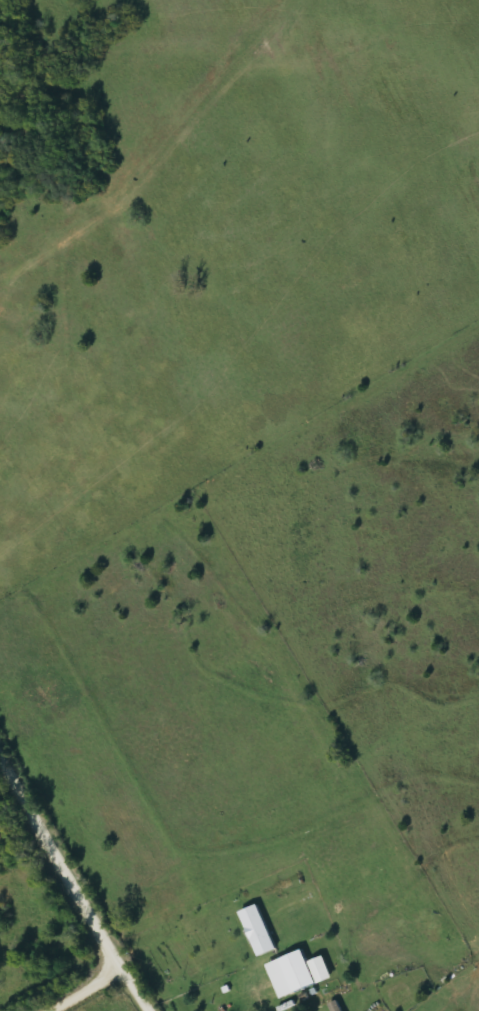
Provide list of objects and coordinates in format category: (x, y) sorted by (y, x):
road: (59, 864)
building: (258, 930)
building: (298, 973)
road: (131, 990)
road: (78, 991)
building: (337, 1006)

